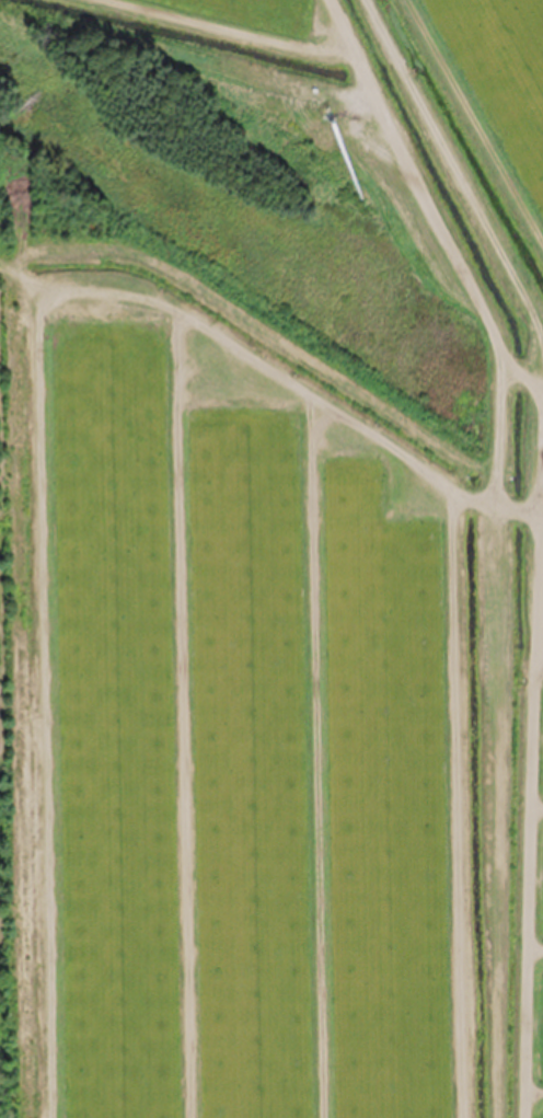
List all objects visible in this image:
crop: (282, 635)

